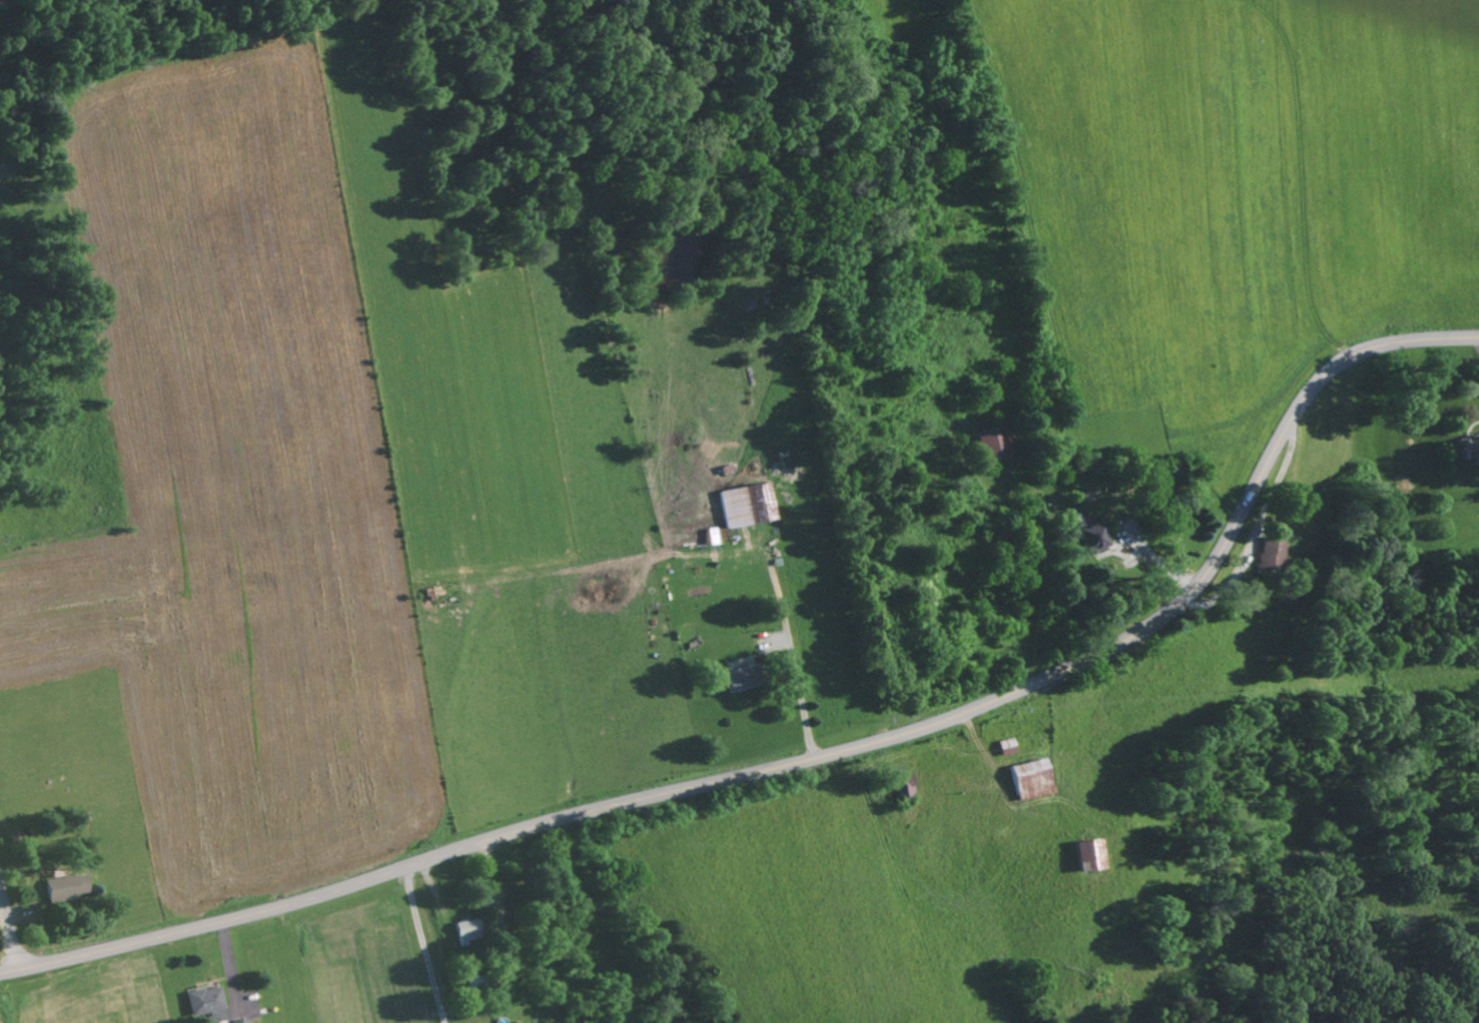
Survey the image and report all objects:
road: (928, 350)
building: (995, 443)
building: (1468, 448)
crop: (236, 497)
building: (745, 506)
building: (1092, 533)
building: (1272, 556)
road: (785, 646)
building: (743, 678)
road: (809, 760)
building: (1034, 779)
building: (1091, 853)
building: (66, 888)
building: (469, 930)
road: (9, 931)
building: (206, 1003)

